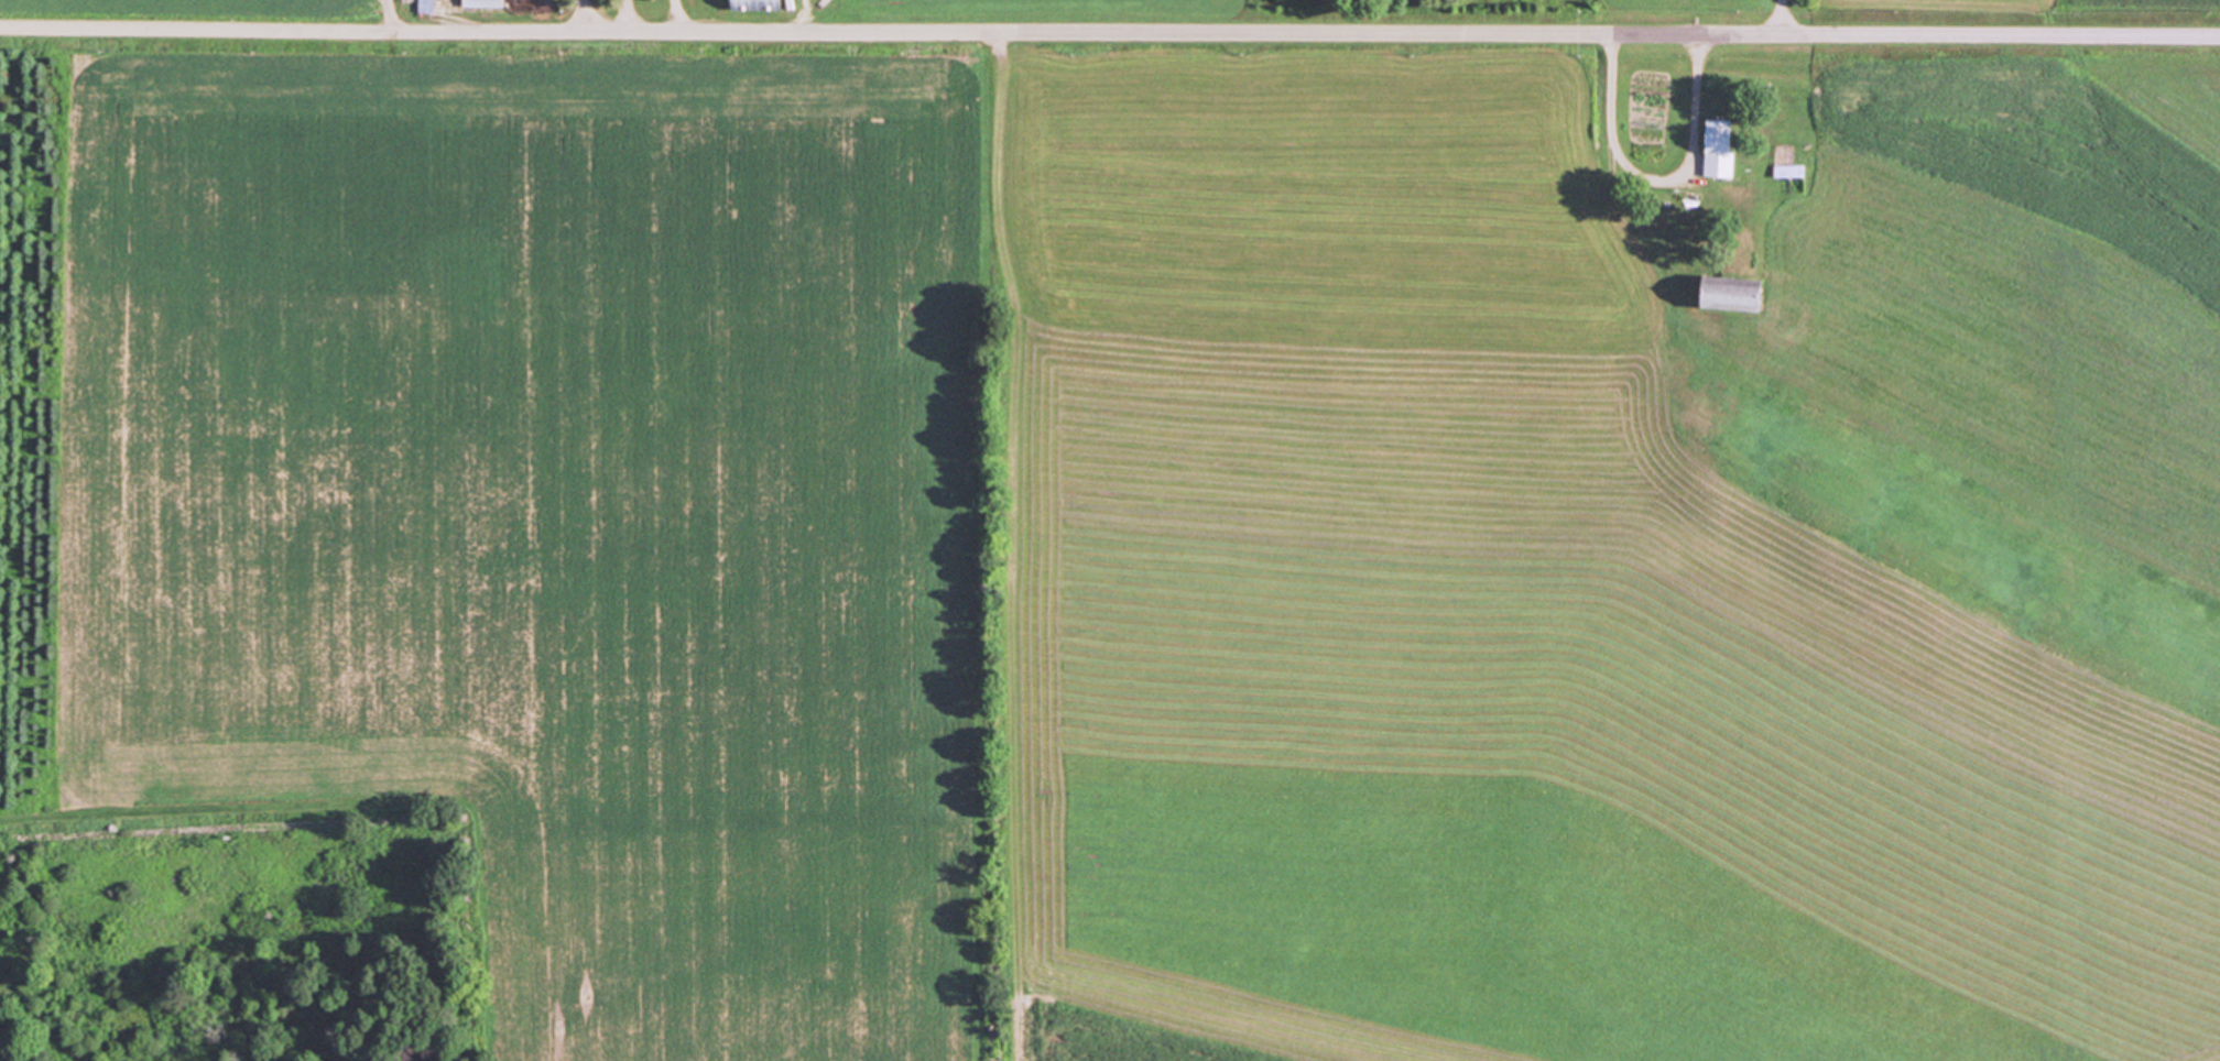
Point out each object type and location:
building: (481, 3)
building: (425, 4)
building: (753, 4)
road: (391, 14)
road: (586, 15)
road: (628, 15)
road: (682, 15)
road: (1785, 17)
road: (1109, 32)
building: (1718, 147)
building: (1788, 171)
road: (1658, 181)
building: (1727, 292)

